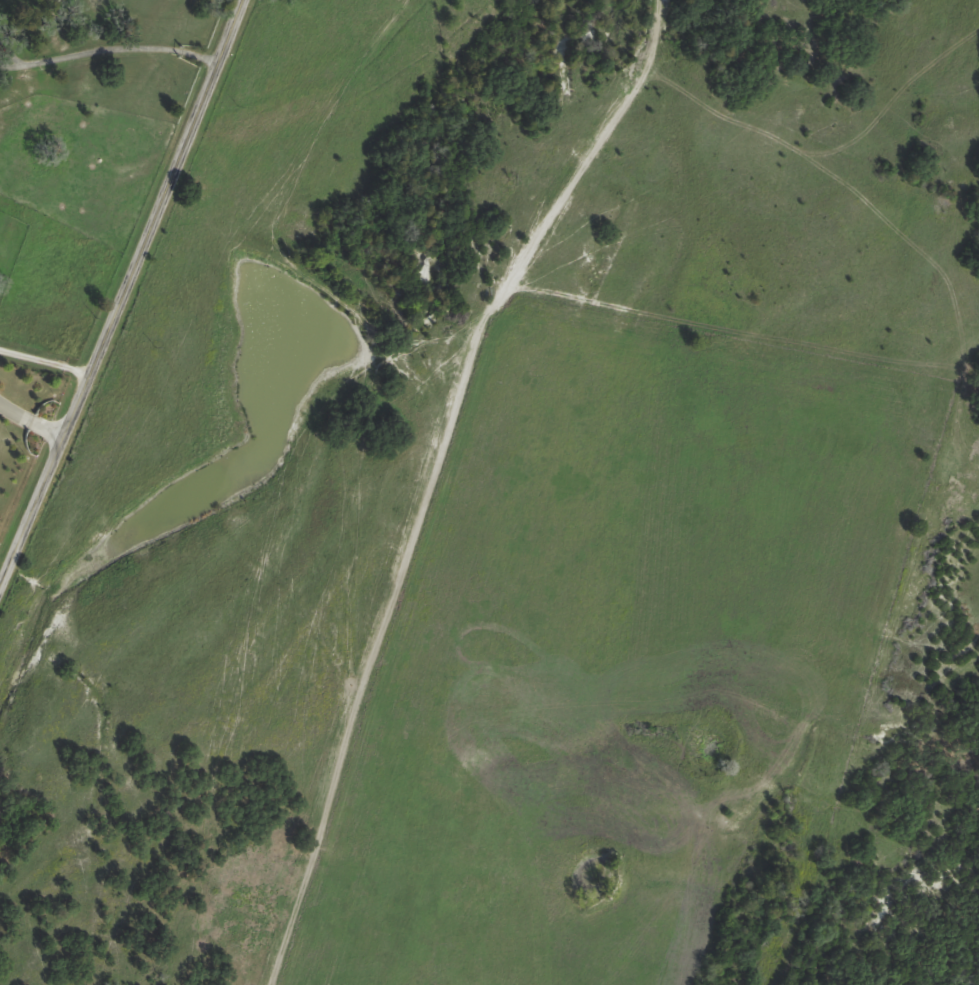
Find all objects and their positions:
road: (106, 49)
road: (126, 292)
road: (44, 361)
road: (29, 421)

